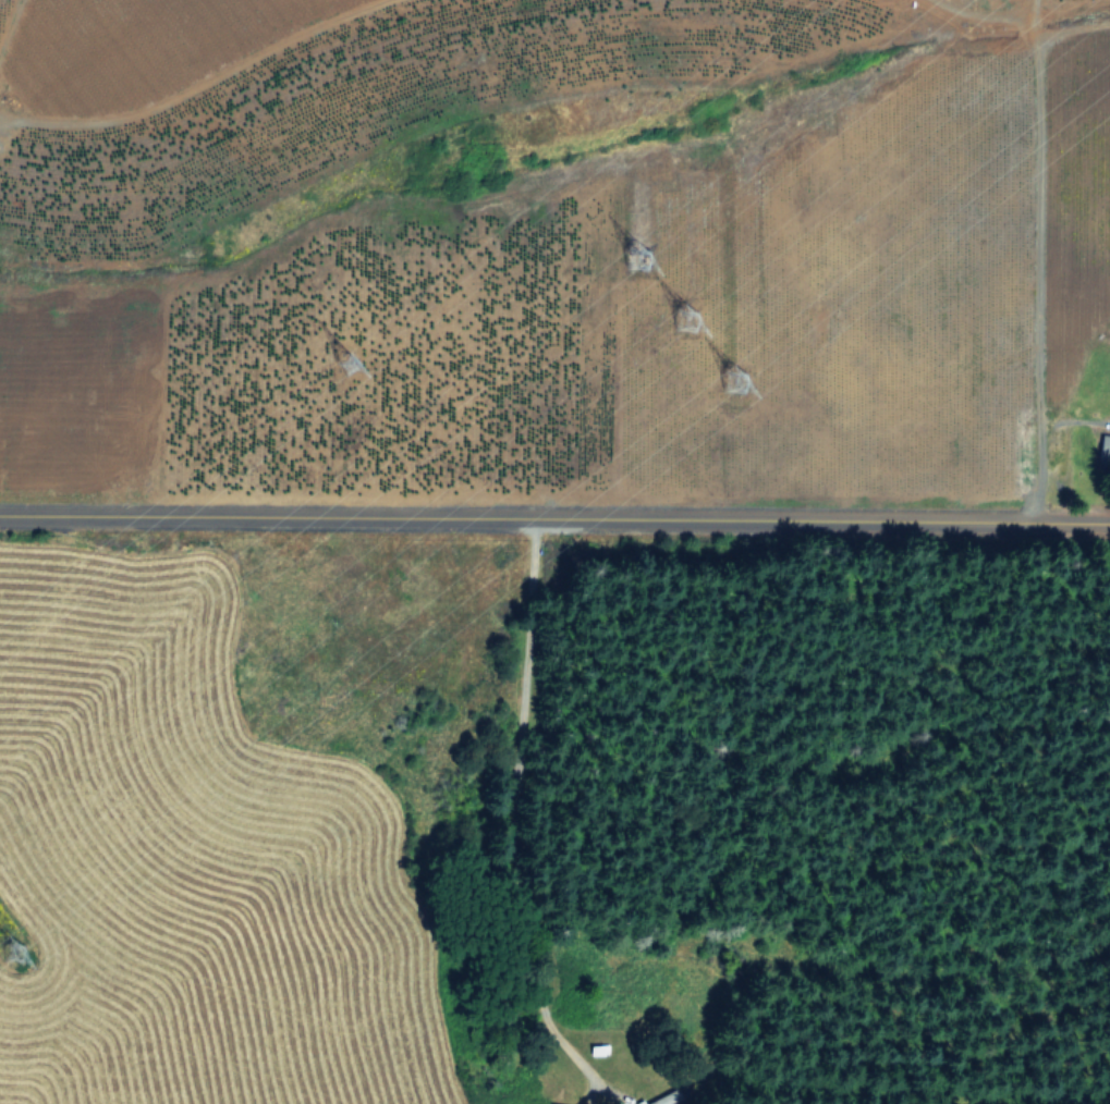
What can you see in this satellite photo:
power tower: (636, 253)
power tower: (686, 316)
power tower: (344, 359)
power tower: (734, 383)
crop: (463, 440)
road: (1044, 440)
building: (1105, 445)
road: (554, 513)
road: (498, 811)
power tower: (23, 956)
building: (662, 1099)

